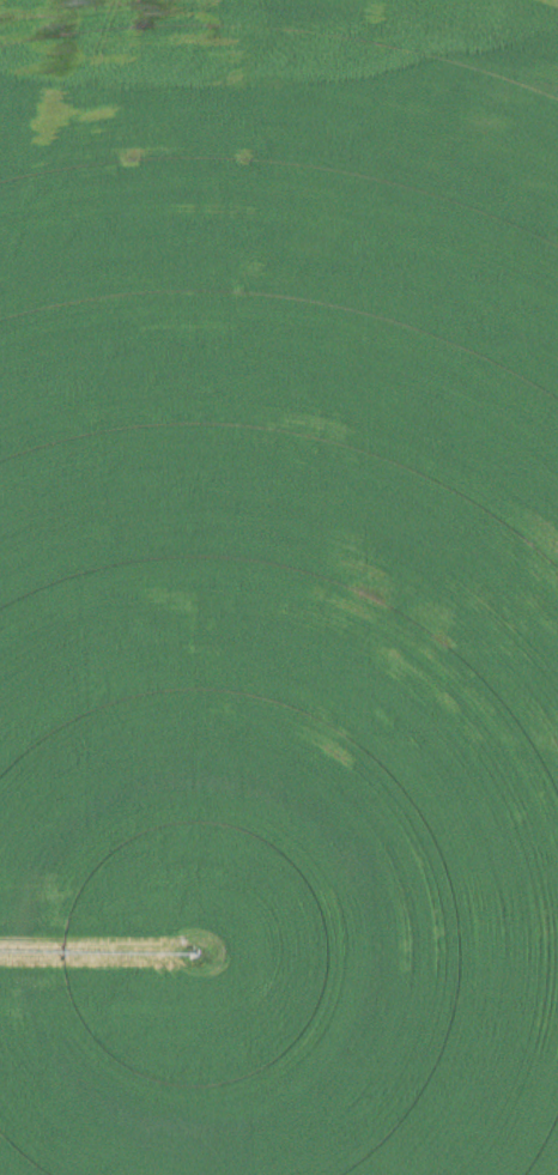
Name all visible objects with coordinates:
crop: (279, 587)
wastewater plant: (279, 587)

